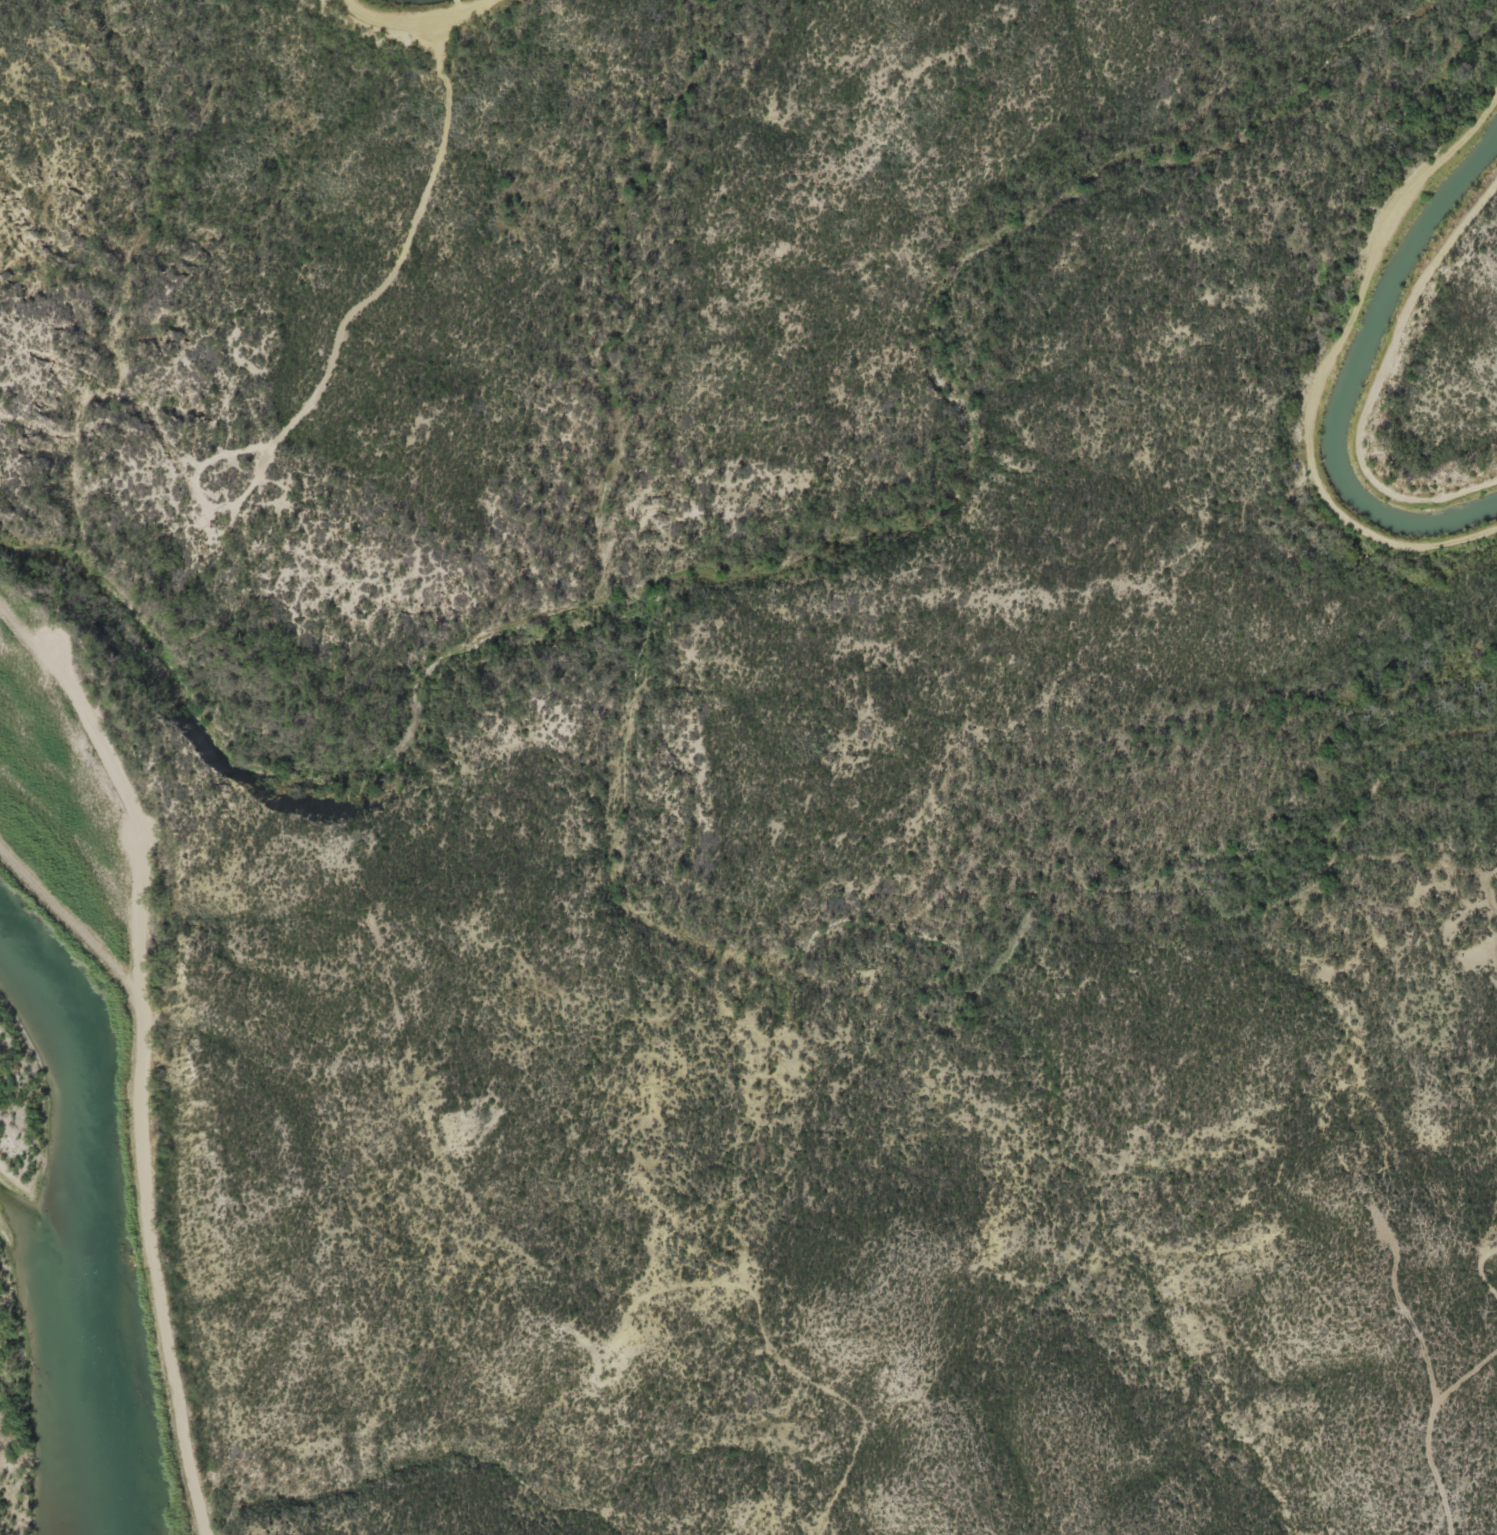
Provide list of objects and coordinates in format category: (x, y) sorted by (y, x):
road: (448, 70)
road: (137, 1077)
river: (74, 1237)

